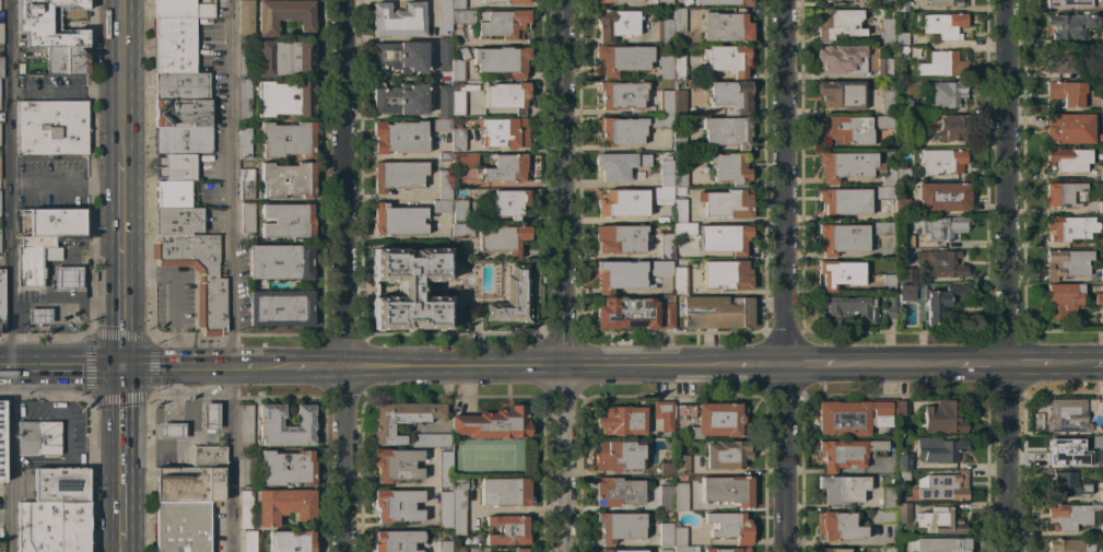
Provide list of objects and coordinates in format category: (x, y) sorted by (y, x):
building: (679, 0)
building: (826, 0)
building: (508, 1)
building: (618, 1)
building: (721, 2)
building: (943, 2)
road: (609, 3)
building: (664, 3)
building: (887, 3)
building: (1068, 3)
building: (457, 4)
building: (901, 5)
building: (181, 9)
building: (283, 15)
building: (451, 15)
building: (246, 16)
building: (398, 20)
building: (679, 20)
building: (51, 23)
building: (503, 24)
building: (615, 24)
building: (837, 24)
building: (943, 25)
building: (1070, 25)
building: (726, 26)
building: (887, 30)
building: (665, 32)
building: (1, 33)
building: (901, 38)
building: (1102, 38)
building: (174, 45)
building: (86, 46)
building: (902, 52)
building: (443, 54)
building: (399, 57)
building: (284, 58)
building: (245, 59)
building: (621, 59)
building: (727, 59)
building: (841, 59)
building: (67, 60)
building: (1058, 60)
building: (501, 61)
building: (900, 63)
building: (941, 64)
building: (459, 66)
building: (1, 67)
building: (671, 67)
building: (883, 68)
road: (119, 77)
building: (180, 85)
road: (64, 91)
building: (1067, 93)
building: (842, 94)
building: (942, 94)
building: (506, 95)
building: (621, 95)
building: (731, 95)
building: (285, 98)
building: (399, 98)
building: (244, 99)
building: (444, 101)
building: (680, 102)
building: (887, 102)
building: (457, 103)
building: (905, 105)
building: (1101, 105)
building: (664, 110)
building: (181, 113)
building: (884, 121)
building: (441, 125)
building: (51, 127)
building: (951, 128)
building: (1068, 128)
building: (620, 130)
building: (503, 131)
building: (726, 131)
building: (843, 131)
building: (399, 137)
building: (679, 138)
building: (286, 139)
building: (457, 139)
building: (1099, 139)
building: (181, 140)
building: (244, 142)
building: (462, 160)
building: (1069, 160)
building: (941, 161)
building: (618, 165)
building: (175, 167)
building: (729, 167)
building: (506, 168)
building: (856, 169)
building: (1101, 172)
building: (902, 174)
building: (397, 175)
building: (679, 178)
building: (286, 180)
road: (64, 181)
road: (342, 183)
building: (664, 183)
road: (783, 183)
building: (246, 184)
building: (443, 192)
building: (1063, 193)
building: (173, 195)
building: (941, 196)
road: (401, 197)
building: (1077, 197)
building: (621, 202)
building: (843, 202)
building: (508, 203)
building: (726, 203)
building: (1101, 207)
building: (679, 210)
building: (459, 211)
building: (247, 219)
building: (286, 220)
building: (398, 220)
building: (177, 221)
building: (57, 222)
building: (939, 227)
building: (1070, 227)
building: (881, 228)
building: (684, 230)
building: (461, 231)
building: (69, 238)
building: (501, 238)
building: (619, 238)
building: (723, 238)
building: (842, 238)
building: (905, 240)
building: (1102, 242)
building: (666, 246)
road: (119, 260)
building: (31, 261)
building: (281, 261)
building: (939, 262)
building: (1066, 263)
building: (660, 268)
building: (840, 273)
building: (197, 274)
building: (726, 274)
building: (905, 274)
building: (1101, 274)
road: (12, 275)
road: (233, 275)
road: (565, 275)
building: (619, 275)
road: (1006, 275)
building: (66, 278)
building: (680, 280)
building: (888, 283)
building: (408, 289)
building: (908, 292)
building: (512, 297)
building: (1065, 300)
building: (1, 301)
building: (941, 301)
building: (889, 307)
building: (280, 308)
building: (847, 308)
building: (716, 312)
building: (625, 313)
building: (37, 315)
building: (667, 316)
road: (899, 364)
road: (978, 364)
road: (1037, 364)
road: (1086, 364)
road: (752, 365)
road: (814, 365)
road: (59, 366)
traffic signals: (119, 366)
road: (532, 366)
road: (195, 367)
road: (307, 367)
road: (201, 391)
building: (902, 407)
road: (144, 413)
building: (664, 414)
building: (1070, 414)
building: (209, 415)
building: (853, 416)
building: (941, 418)
building: (400, 419)
building: (713, 419)
building: (621, 421)
building: (492, 424)
building: (246, 425)
building: (270, 425)
road: (190, 427)
road: (152, 430)
building: (169, 431)
road: (212, 433)
road: (66, 435)
building: (1, 438)
building: (38, 438)
building: (430, 439)
building: (940, 449)
building: (1065, 449)
road: (120, 453)
building: (845, 453)
building: (727, 454)
building: (619, 456)
building: (208, 457)
park: (486, 457)
road: (783, 458)
road: (344, 459)
building: (1101, 460)
building: (902, 461)
building: (396, 465)
building: (681, 465)
building: (286, 468)
building: (444, 469)
building: (666, 469)
building: (247, 471)
building: (903, 477)
building: (188, 484)
building: (1067, 484)
building: (60, 485)
building: (940, 486)
building: (842, 489)
building: (727, 491)
building: (504, 492)
building: (617, 492)
building: (1101, 495)
building: (673, 497)
building: (888, 498)
building: (283, 505)
building: (397, 505)
building: (458, 506)
building: (245, 509)
building: (445, 509)
road: (7, 513)
building: (903, 514)
building: (1069, 516)
building: (882, 517)
building: (940, 520)
building: (181, 526)
building: (729, 526)
building: (838, 526)
building: (52, 527)
building: (619, 527)
building: (1102, 529)
building: (507, 530)
building: (665, 535)
building: (681, 536)
building: (249, 541)
building: (291, 541)
building: (396, 541)
building: (1102, 542)
building: (1070, 544)
road: (121, 545)
building: (444, 545)
building: (940, 545)
building: (684, 549)
building: (888, 549)
building: (458, 550)
building: (519, 550)
building: (665, 550)
building: (727, 550)
building: (832, 550)
building: (0, 551)
building: (621, 551)

